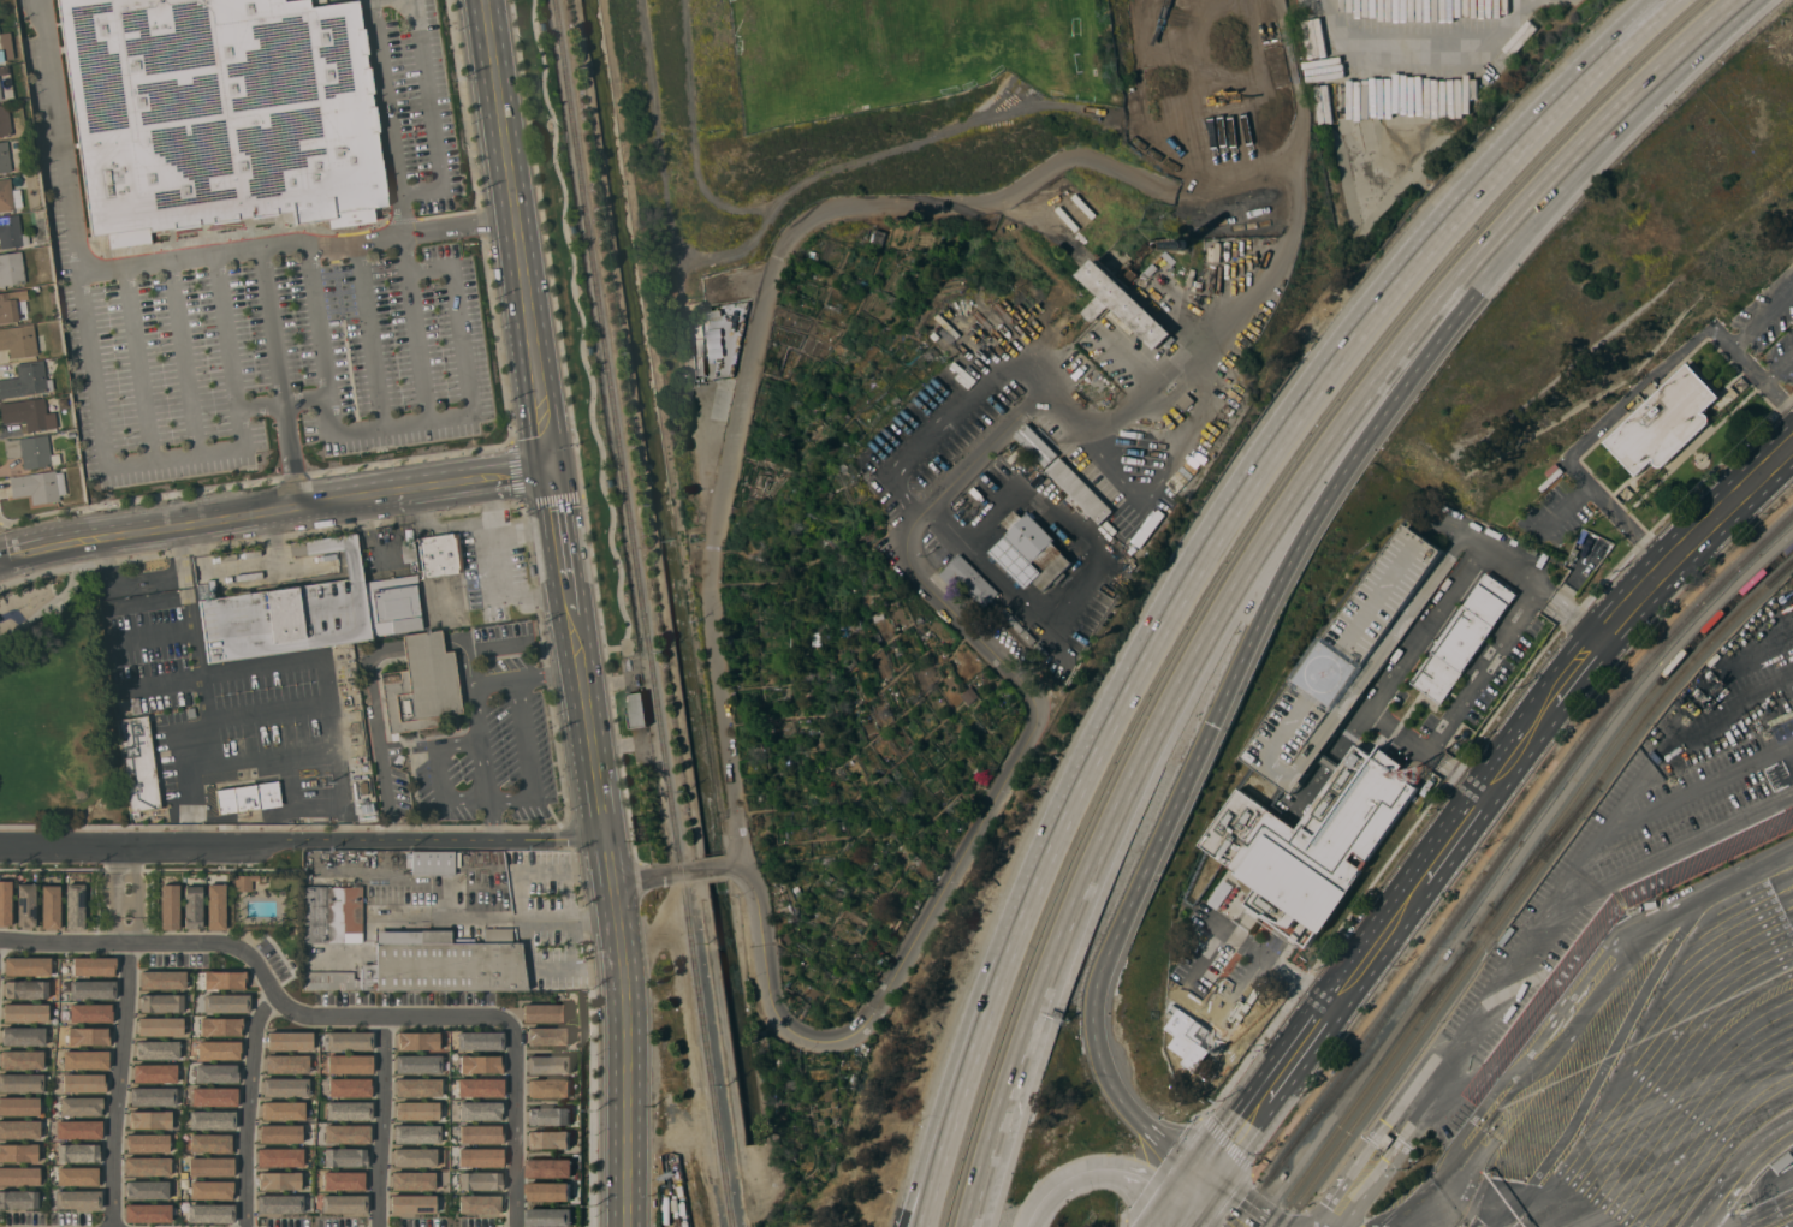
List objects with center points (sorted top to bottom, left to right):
road: (1420, 40)
park: (910, 52)
building: (1, 55)
building: (0, 95)
road: (1621, 105)
building: (219, 113)
road: (431, 114)
road: (387, 117)
building: (5, 120)
road: (63, 136)
building: (4, 156)
building: (8, 196)
road: (449, 214)
road: (402, 219)
road: (355, 226)
building: (11, 232)
road: (329, 232)
road: (405, 233)
road: (232, 234)
road: (521, 234)
building: (1182, 244)
road: (329, 246)
road: (188, 257)
building: (1144, 257)
building: (1170, 258)
building: (11, 269)
building: (1151, 270)
building: (20, 294)
parking lot: (275, 300)
building: (1123, 304)
building: (7, 306)
building: (712, 314)
road: (1763, 318)
road: (414, 326)
building: (697, 328)
road: (369, 334)
road: (345, 339)
building: (18, 340)
building: (1170, 340)
building: (712, 341)
building: (699, 346)
road: (752, 349)
road: (182, 357)
road: (136, 363)
road: (94, 365)
building: (701, 365)
road: (1779, 367)
road: (278, 377)
building: (25, 380)
road: (1628, 398)
road: (280, 401)
building: (1185, 401)
building: (28, 413)
road: (237, 418)
road: (402, 421)
building: (1664, 422)
building: (1037, 446)
building: (31, 451)
traffic signals: (554, 469)
building: (1550, 478)
road: (470, 481)
building: (38, 486)
road: (1248, 486)
building: (1080, 490)
road: (1728, 502)
road: (1563, 506)
road: (1439, 518)
road: (192, 522)
building: (1120, 522)
road: (562, 524)
road: (443, 526)
road: (527, 528)
road: (1464, 529)
road: (254, 538)
building: (1031, 549)
building: (439, 554)
road: (1470, 565)
road: (243, 570)
road: (495, 572)
road: (1284, 574)
building: (969, 579)
road: (44, 607)
building: (310, 613)
railway: (642, 613)
building: (1015, 621)
building: (1464, 638)
road: (423, 641)
road: (464, 655)
building: (1348, 657)
parking garage: (1348, 657)
parking lot: (1507, 672)
building: (422, 685)
road: (1182, 690)
road: (198, 693)
road: (325, 701)
road: (474, 703)
road: (588, 704)
building: (135, 705)
park: (57, 708)
road: (263, 710)
building: (637, 710)
building: (191, 711)
road: (378, 727)
road: (1424, 749)
road: (528, 757)
building: (138, 763)
road: (338, 793)
building: (249, 797)
road: (1510, 822)
road: (303, 838)
road: (970, 839)
building: (1311, 844)
road: (1680, 847)
railway: (1545, 848)
railway: (1498, 857)
building: (434, 862)
road: (1578, 865)
road: (544, 871)
road: (1424, 872)
railway: (1518, 877)
building: (248, 881)
railway: (1526, 887)
road: (114, 891)
road: (137, 892)
building: (1221, 894)
building: (5, 903)
building: (26, 905)
building: (51, 906)
building: (75, 906)
building: (170, 906)
building: (192, 906)
building: (215, 906)
building: (333, 913)
road: (571, 919)
road: (64, 941)
road: (527, 941)
road: (216, 942)
road: (1271, 960)
building: (433, 964)
building: (94, 965)
building: (26, 966)
parking lot: (1224, 971)
building: (162, 979)
building: (222, 979)
building: (26, 989)
building: (93, 989)
road: (1240, 991)
road: (1542, 994)
building: (161, 1002)
building: (224, 1002)
road: (1573, 1009)
building: (25, 1013)
building: (91, 1013)
building: (544, 1013)
road: (391, 1017)
building: (160, 1026)
building: (220, 1026)
road: (628, 1028)
building: (23, 1036)
building: (89, 1036)
building: (548, 1036)
building: (289, 1040)
building: (349, 1040)
building: (479, 1040)
building: (417, 1041)
building: (158, 1049)
building: (218, 1049)
building: (1217, 1049)
railway: (1375, 1053)
building: (22, 1060)
building: (85, 1060)
building: (286, 1064)
building: (349, 1064)
building: (417, 1064)
building: (480, 1064)
building: (548, 1065)
building: (155, 1073)
building: (215, 1073)
building: (22, 1083)
building: (83, 1083)
road: (120, 1084)
building: (284, 1086)
building: (349, 1086)
building: (416, 1086)
building: (480, 1086)
road: (1111, 1086)
road: (1439, 1086)
building: (548, 1088)
building: (153, 1096)
building: (213, 1096)
road: (1673, 1098)
building: (19, 1106)
building: (81, 1107)
road: (250, 1108)
building: (283, 1110)
building: (348, 1110)
building: (416, 1110)
building: (479, 1110)
building: (548, 1116)
building: (210, 1119)
building: (150, 1120)
road: (384, 1122)
road: (515, 1124)
road: (1205, 1124)
building: (19, 1128)
building: (79, 1130)
building: (279, 1133)
building: (346, 1133)
building: (480, 1133)
building: (416, 1136)
building: (548, 1139)
road: (925, 1140)
building: (1385, 1142)
building: (147, 1143)
building: (210, 1143)
road: (945, 1143)
road: (1370, 1143)
building: (18, 1152)
building: (78, 1152)
building: (279, 1156)
building: (344, 1157)
building: (414, 1157)
building: (480, 1157)
building: (210, 1166)
building: (147, 1167)
building: (548, 1168)
road: (1740, 1172)
road: (1068, 1174)
building: (19, 1175)
building: (77, 1177)
building: (278, 1180)
building: (344, 1180)
building: (411, 1180)
building: (480, 1180)
road: (1141, 1180)
building: (147, 1190)
building: (210, 1190)
traffic signals: (1194, 1190)
building: (547, 1191)
building: (18, 1199)
building: (77, 1201)
building: (278, 1203)
building: (343, 1203)
building: (414, 1203)
building: (480, 1203)
road: (1034, 1205)
road: (1178, 1208)
road: (1216, 1208)
building: (148, 1213)
building: (209, 1213)
building: (548, 1217)
road: (1122, 1223)
road: (1325, 1223)

